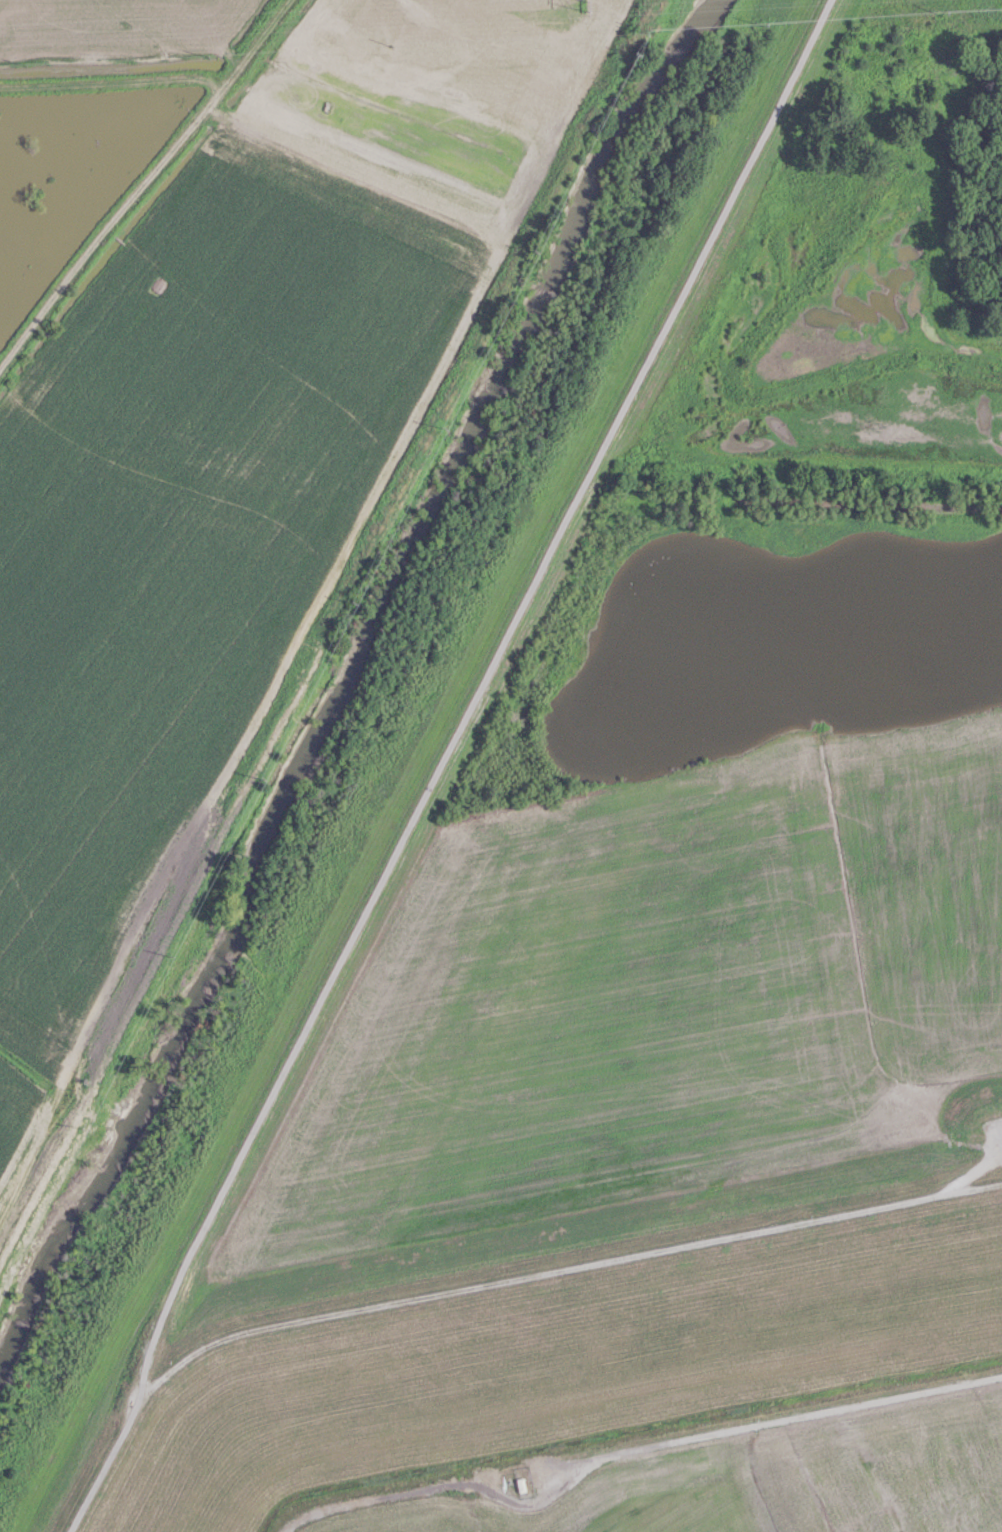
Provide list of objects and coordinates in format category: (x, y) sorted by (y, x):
power tower: (580, 4)
park: (711, 758)
road: (440, 763)
road: (741, 1479)

